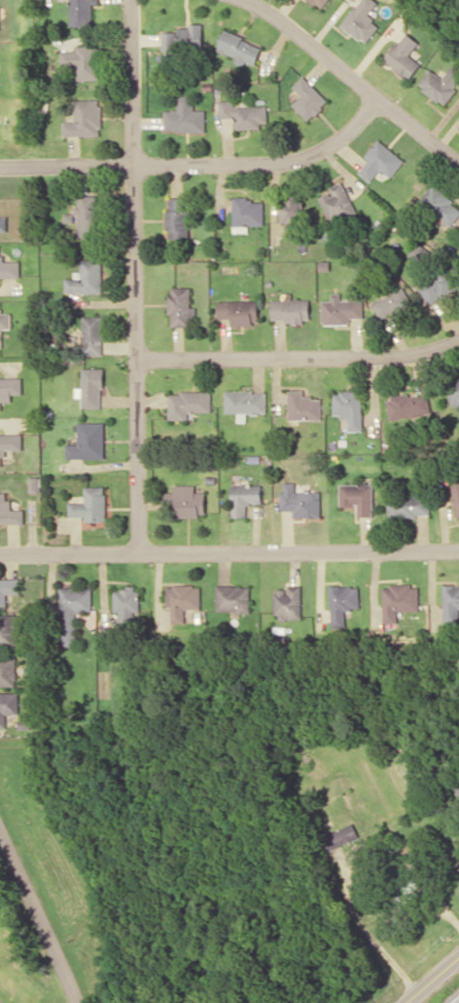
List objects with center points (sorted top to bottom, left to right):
building: (320, 2)
building: (81, 12)
building: (361, 20)
building: (183, 37)
building: (239, 47)
building: (404, 55)
building: (83, 60)
road: (354, 79)
building: (440, 83)
building: (308, 98)
building: (243, 114)
building: (185, 116)
building: (84, 118)
building: (380, 160)
road: (200, 163)
building: (337, 203)
building: (440, 204)
building: (247, 213)
building: (86, 215)
building: (292, 215)
building: (178, 217)
building: (2, 223)
building: (420, 253)
building: (9, 269)
building: (86, 277)
road: (134, 277)
building: (439, 284)
building: (393, 304)
building: (180, 307)
building: (291, 310)
building: (341, 310)
building: (239, 311)
building: (4, 321)
building: (92, 335)
road: (298, 356)
building: (91, 387)
building: (9, 388)
building: (454, 392)
building: (245, 401)
building: (188, 403)
building: (303, 406)
building: (409, 406)
building: (349, 407)
building: (88, 441)
building: (9, 444)
building: (34, 484)
building: (456, 492)
building: (357, 497)
building: (244, 498)
building: (185, 501)
building: (300, 501)
building: (90, 504)
building: (408, 505)
building: (9, 511)
road: (229, 552)
building: (8, 589)
building: (232, 597)
building: (399, 600)
building: (181, 601)
building: (287, 602)
building: (342, 602)
building: (450, 603)
building: (126, 604)
building: (73, 610)
building: (8, 630)
building: (8, 671)
building: (8, 706)
building: (456, 781)
building: (339, 836)
building: (406, 890)
road: (39, 918)
road: (432, 980)
railway: (455, 1000)

